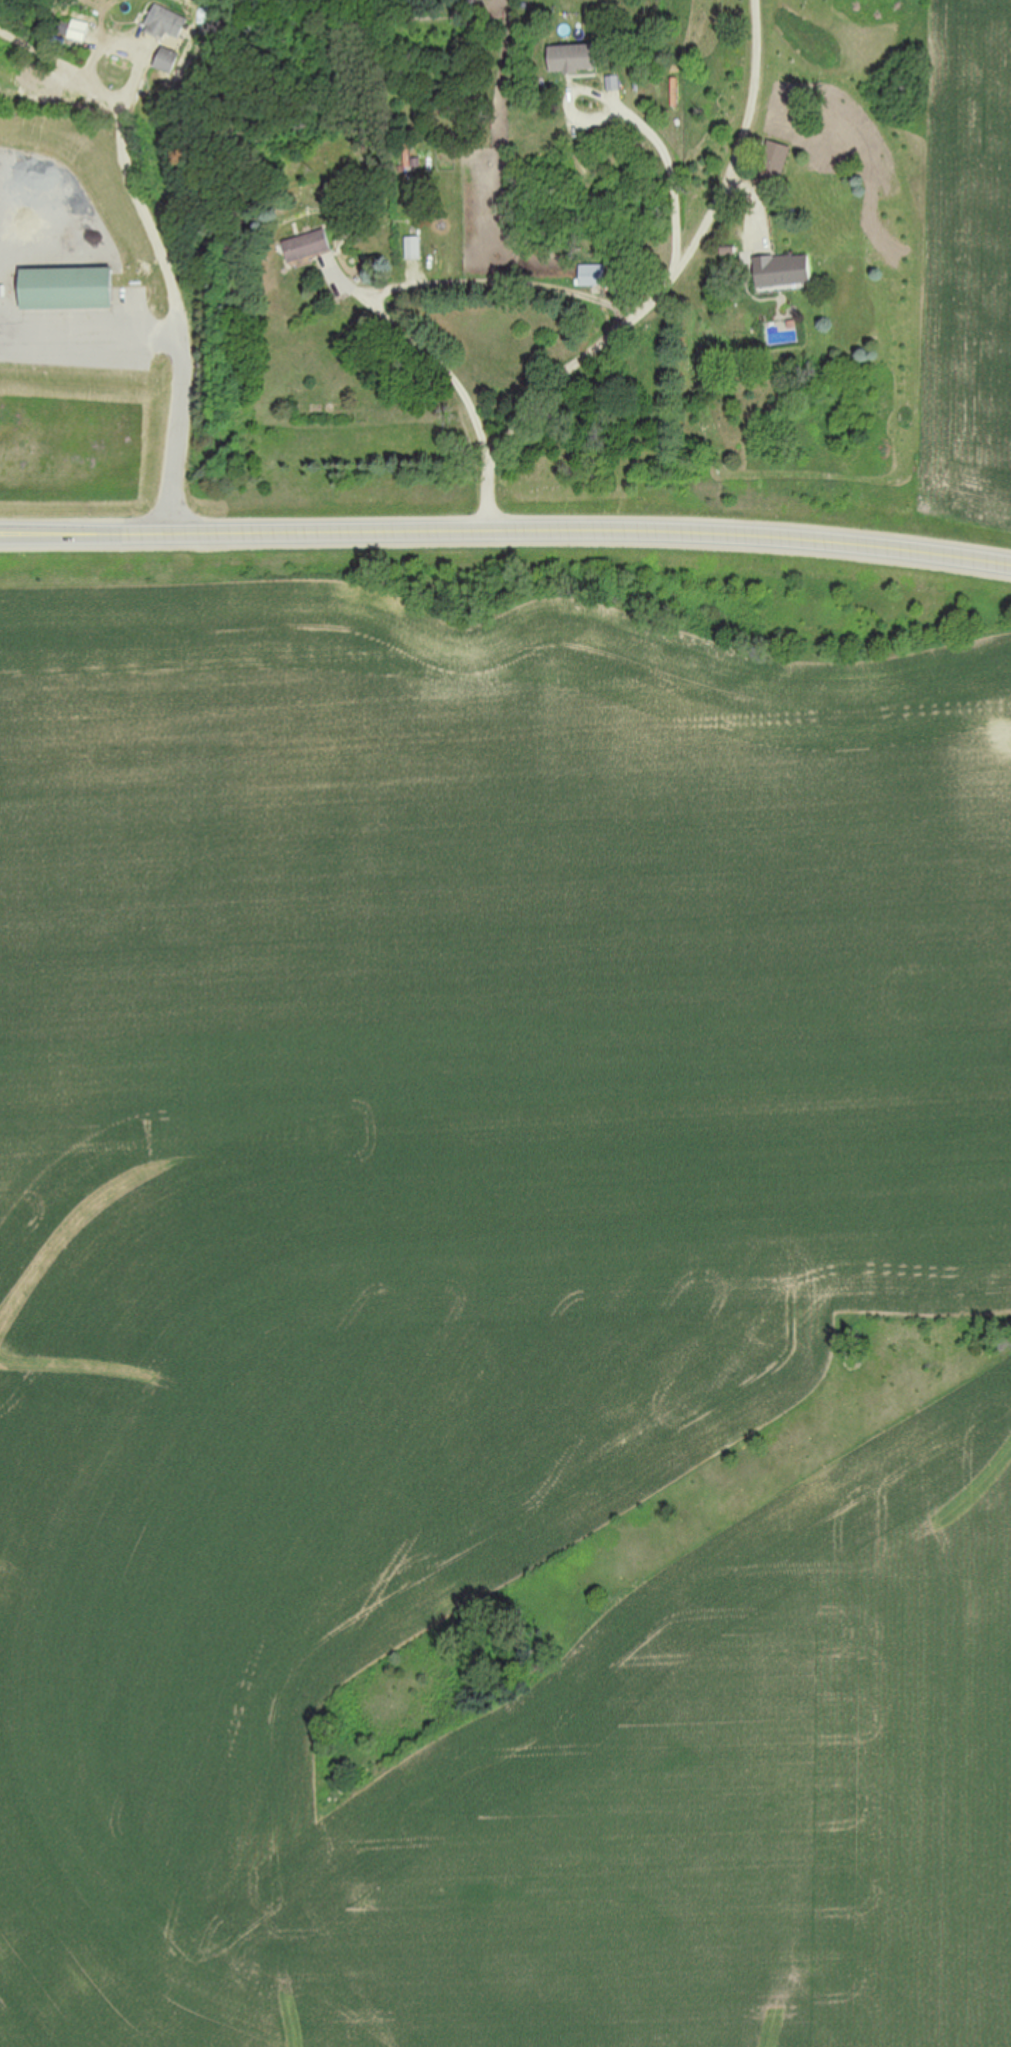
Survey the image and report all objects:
building: (165, 24)
building: (73, 39)
building: (572, 58)
building: (168, 61)
building: (774, 158)
road: (670, 162)
building: (305, 247)
building: (782, 273)
building: (592, 276)
road: (400, 287)
building: (66, 290)
road: (659, 291)
road: (165, 300)
road: (506, 538)

